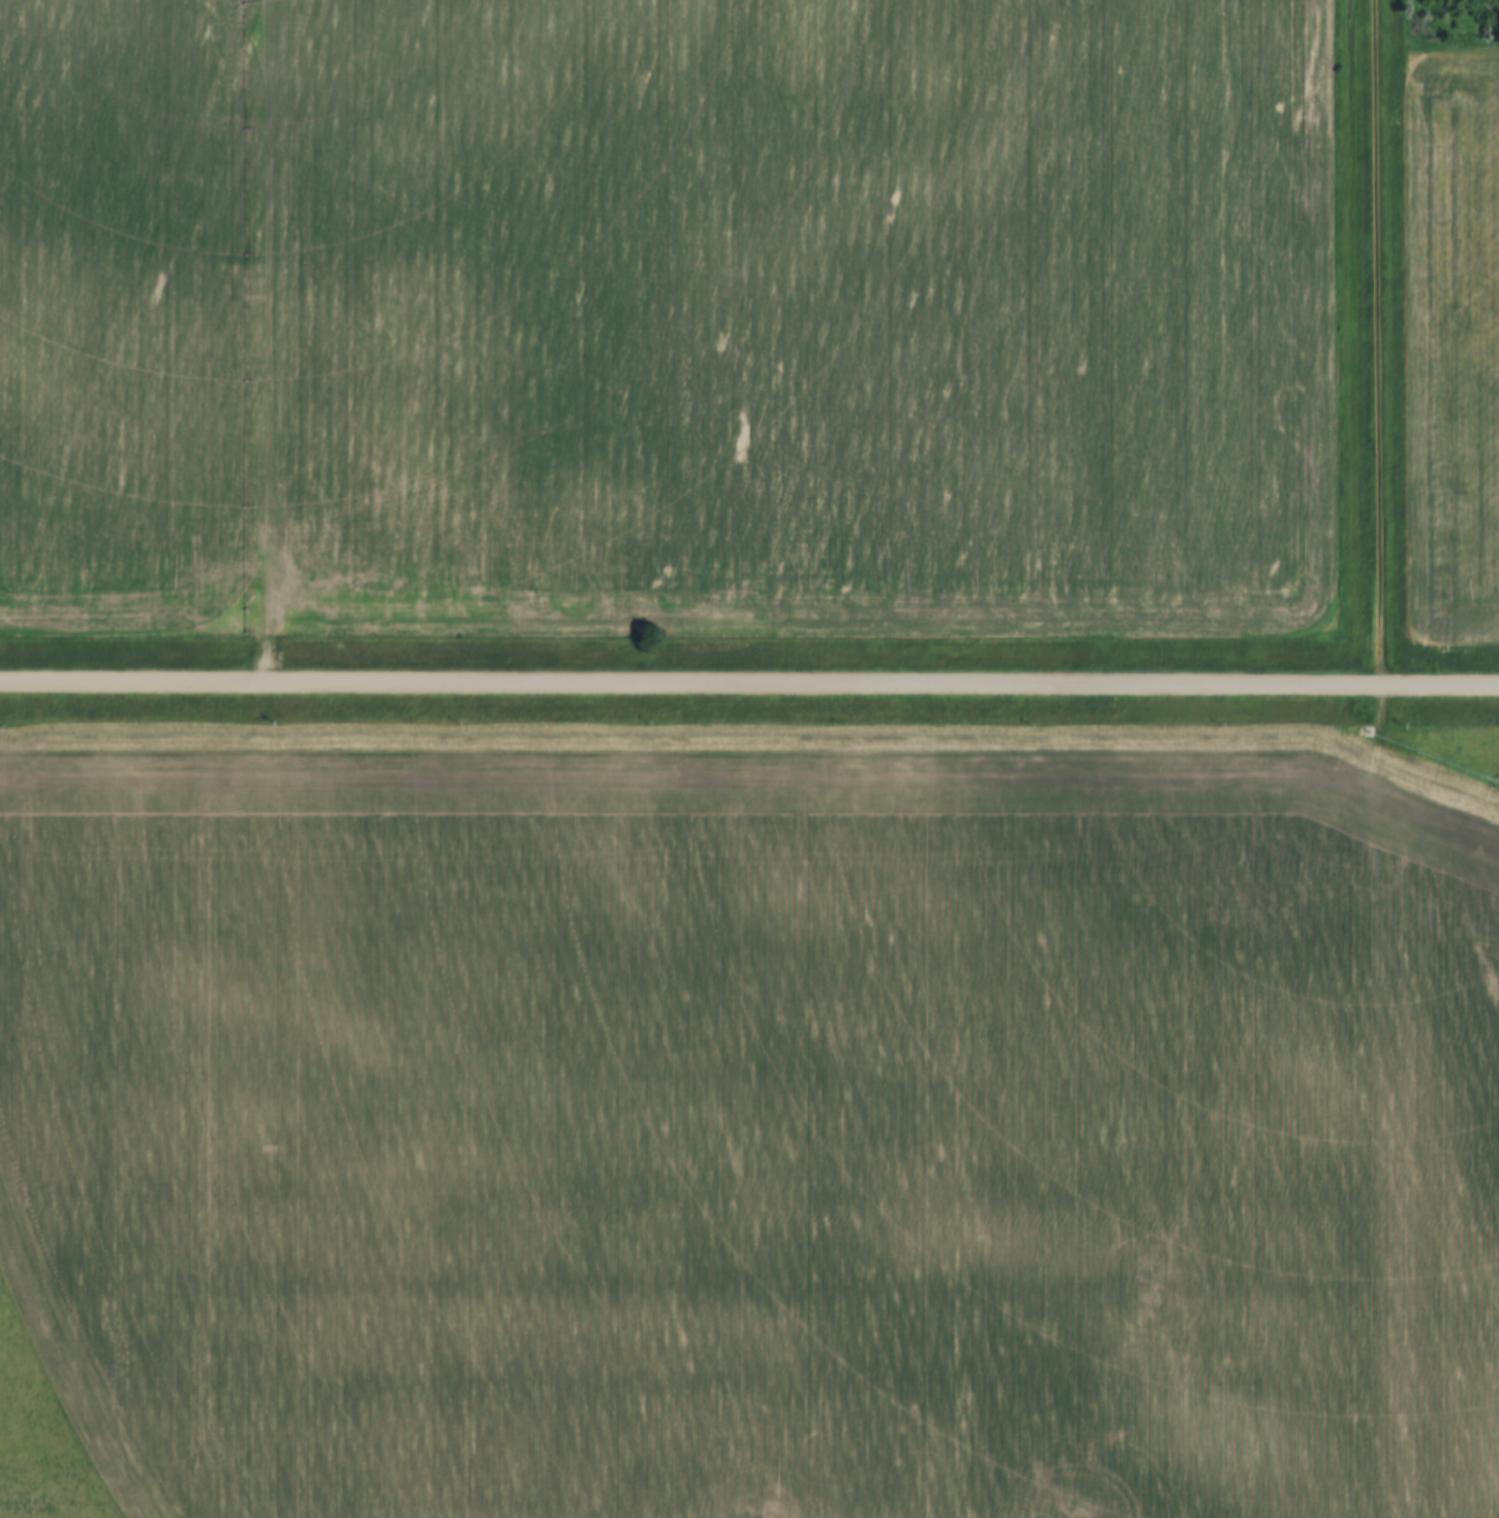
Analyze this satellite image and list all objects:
road: (749, 684)
road: (1376, 758)

